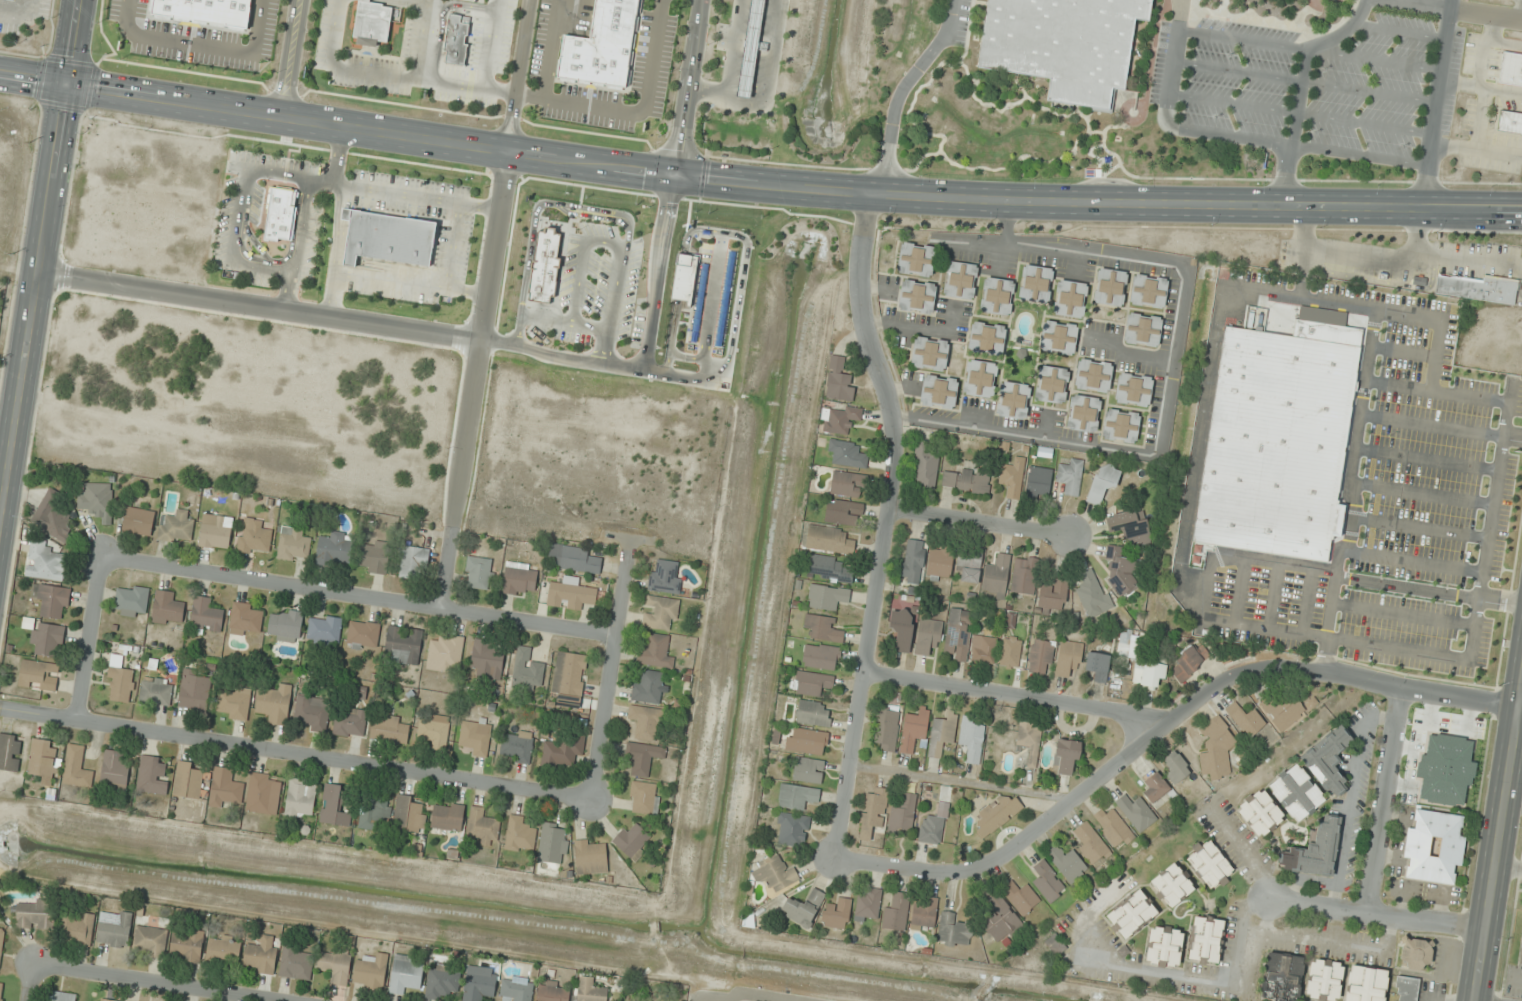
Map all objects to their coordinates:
building: (15, 0)
road: (1462, 9)
road: (19, 10)
building: (205, 10)
road: (1520, 10)
road: (443, 19)
building: (370, 22)
road: (579, 26)
road: (1399, 31)
road: (1241, 39)
road: (425, 40)
building: (455, 40)
road: (71, 42)
road: (490, 44)
building: (1061, 44)
road: (1506, 44)
road: (199, 45)
building: (600, 45)
road: (1481, 46)
road: (549, 48)
building: (750, 49)
gas station: (750, 49)
road: (290, 58)
road: (1374, 59)
building: (1510, 68)
road: (519, 75)
road: (391, 76)
road: (32, 78)
road: (1304, 82)
traffic signals: (65, 84)
parking lot: (1295, 85)
road: (688, 86)
road: (1481, 87)
road: (1300, 88)
road: (899, 91)
road: (1436, 103)
road: (634, 111)
road: (1299, 113)
road: (1480, 118)
building: (1509, 121)
road: (1168, 124)
road: (1476, 149)
road: (337, 154)
road: (1360, 155)
road: (282, 174)
road: (790, 187)
road: (416, 195)
building: (279, 214)
road: (1417, 235)
building: (386, 237)
road: (233, 242)
road: (298, 244)
road: (452, 245)
road: (335, 249)
building: (915, 259)
road: (1411, 262)
building: (959, 279)
road: (410, 283)
building: (1035, 283)
building: (1109, 287)
building: (1477, 287)
road: (1303, 289)
building: (1147, 291)
building: (916, 296)
building: (996, 296)
building: (1068, 298)
road: (259, 305)
road: (32, 318)
building: (1141, 330)
building: (1057, 337)
building: (985, 338)
road: (1408, 351)
building: (928, 353)
building: (1092, 375)
building: (978, 378)
road: (474, 379)
building: (839, 380)
road: (1403, 382)
building: (1050, 384)
building: (1131, 389)
building: (937, 391)
building: (1011, 399)
building: (1082, 413)
building: (840, 418)
building: (1119, 425)
road: (1442, 425)
building: (1276, 440)
building: (847, 454)
road: (1427, 457)
building: (925, 464)
building: (1071, 477)
building: (1012, 478)
building: (965, 481)
building: (1103, 482)
building: (847, 484)
road: (1193, 484)
building: (1038, 485)
road: (1423, 490)
road: (1356, 492)
road: (1491, 495)
building: (97, 501)
building: (844, 512)
building: (52, 517)
building: (138, 521)
road: (1421, 521)
road: (981, 523)
road: (886, 525)
building: (176, 527)
building: (216, 531)
building: (254, 537)
building: (829, 539)
building: (293, 544)
building: (1126, 547)
building: (334, 548)
road: (1416, 553)
building: (573, 558)
building: (374, 559)
building: (912, 561)
building: (940, 561)
building: (45, 562)
building: (412, 562)
building: (968, 566)
building: (829, 569)
building: (479, 572)
building: (996, 575)
building: (1024, 575)
building: (665, 576)
building: (519, 578)
road: (1429, 589)
building: (570, 594)
building: (1092, 594)
road: (360, 596)
building: (826, 596)
building: (1051, 596)
building: (131, 601)
road: (1275, 601)
building: (52, 602)
road: (1308, 606)
building: (167, 608)
building: (660, 613)
building: (206, 615)
building: (246, 619)
road: (1203, 619)
road: (1401, 621)
building: (285, 626)
building: (823, 628)
building: (902, 629)
building: (324, 630)
road: (1242, 633)
building: (958, 634)
building: (362, 635)
building: (928, 637)
building: (47, 640)
road: (90, 640)
building: (404, 644)
building: (1124, 648)
building: (983, 650)
building: (655, 652)
building: (445, 654)
building: (821, 656)
building: (1041, 657)
building: (1069, 658)
building: (487, 659)
building: (1188, 662)
building: (1098, 665)
building: (527, 668)
building: (1148, 674)
building: (39, 675)
building: (569, 678)
road: (611, 678)
building: (119, 679)
building: (811, 683)
building: (648, 687)
building: (194, 691)
building: (156, 692)
building: (234, 703)
building: (275, 703)
road: (1191, 706)
building: (1283, 709)
building: (312, 713)
building: (814, 713)
building: (1245, 720)
building: (645, 721)
building: (350, 723)
building: (886, 727)
building: (390, 729)
building: (914, 729)
building: (434, 731)
building: (942, 734)
building: (475, 736)
building: (971, 738)
building: (806, 741)
building: (1030, 741)
building: (516, 746)
building: (1216, 750)
building: (9, 752)
road: (295, 753)
building: (559, 753)
building: (643, 757)
building: (1066, 757)
building: (1328, 759)
building: (42, 761)
building: (1175, 766)
building: (77, 767)
building: (114, 769)
building: (808, 770)
building: (1445, 770)
building: (153, 774)
building: (189, 780)
building: (1155, 787)
building: (225, 788)
building: (1296, 792)
building: (262, 793)
building: (797, 796)
building: (644, 797)
building: (300, 798)
road: (1388, 799)
building: (335, 806)
building: (374, 812)
building: (873, 812)
building: (1136, 812)
building: (1260, 813)
building: (997, 814)
building: (410, 815)
building: (903, 815)
building: (447, 817)
building: (482, 827)
building: (1113, 827)
building: (792, 829)
building: (931, 829)
building: (520, 834)
road: (1499, 835)
building: (632, 841)
building: (553, 843)
building: (1089, 843)
building: (1434, 847)
building: (1315, 851)
road: (1015, 852)
building: (591, 856)
building: (1067, 863)
building: (1209, 864)
building: (774, 874)
building: (1047, 881)
building: (1172, 885)
building: (1021, 897)
building: (868, 905)
road: (1328, 906)
building: (803, 908)
building: (896, 910)
building: (837, 913)
building: (924, 913)
building: (34, 914)
building: (1131, 914)
building: (999, 916)
building: (114, 928)
building: (78, 929)
building: (953, 931)
building: (1206, 939)
building: (1, 941)
building: (150, 941)
building: (186, 945)
building: (1055, 945)
building: (1164, 946)
building: (224, 949)
building: (1415, 954)
building: (261, 955)
building: (1520, 955)
building: (296, 965)
building: (335, 966)
building: (371, 971)
building: (405, 974)
building: (1282, 977)
building: (1324, 980)
building: (442, 981)
road: (32, 983)
road: (148, 983)
building: (479, 983)
building: (1365, 984)
building: (517, 988)
building: (1406, 988)
building: (590, 990)
building: (2, 991)
building: (553, 991)
building: (61, 997)
building: (105, 1000)

